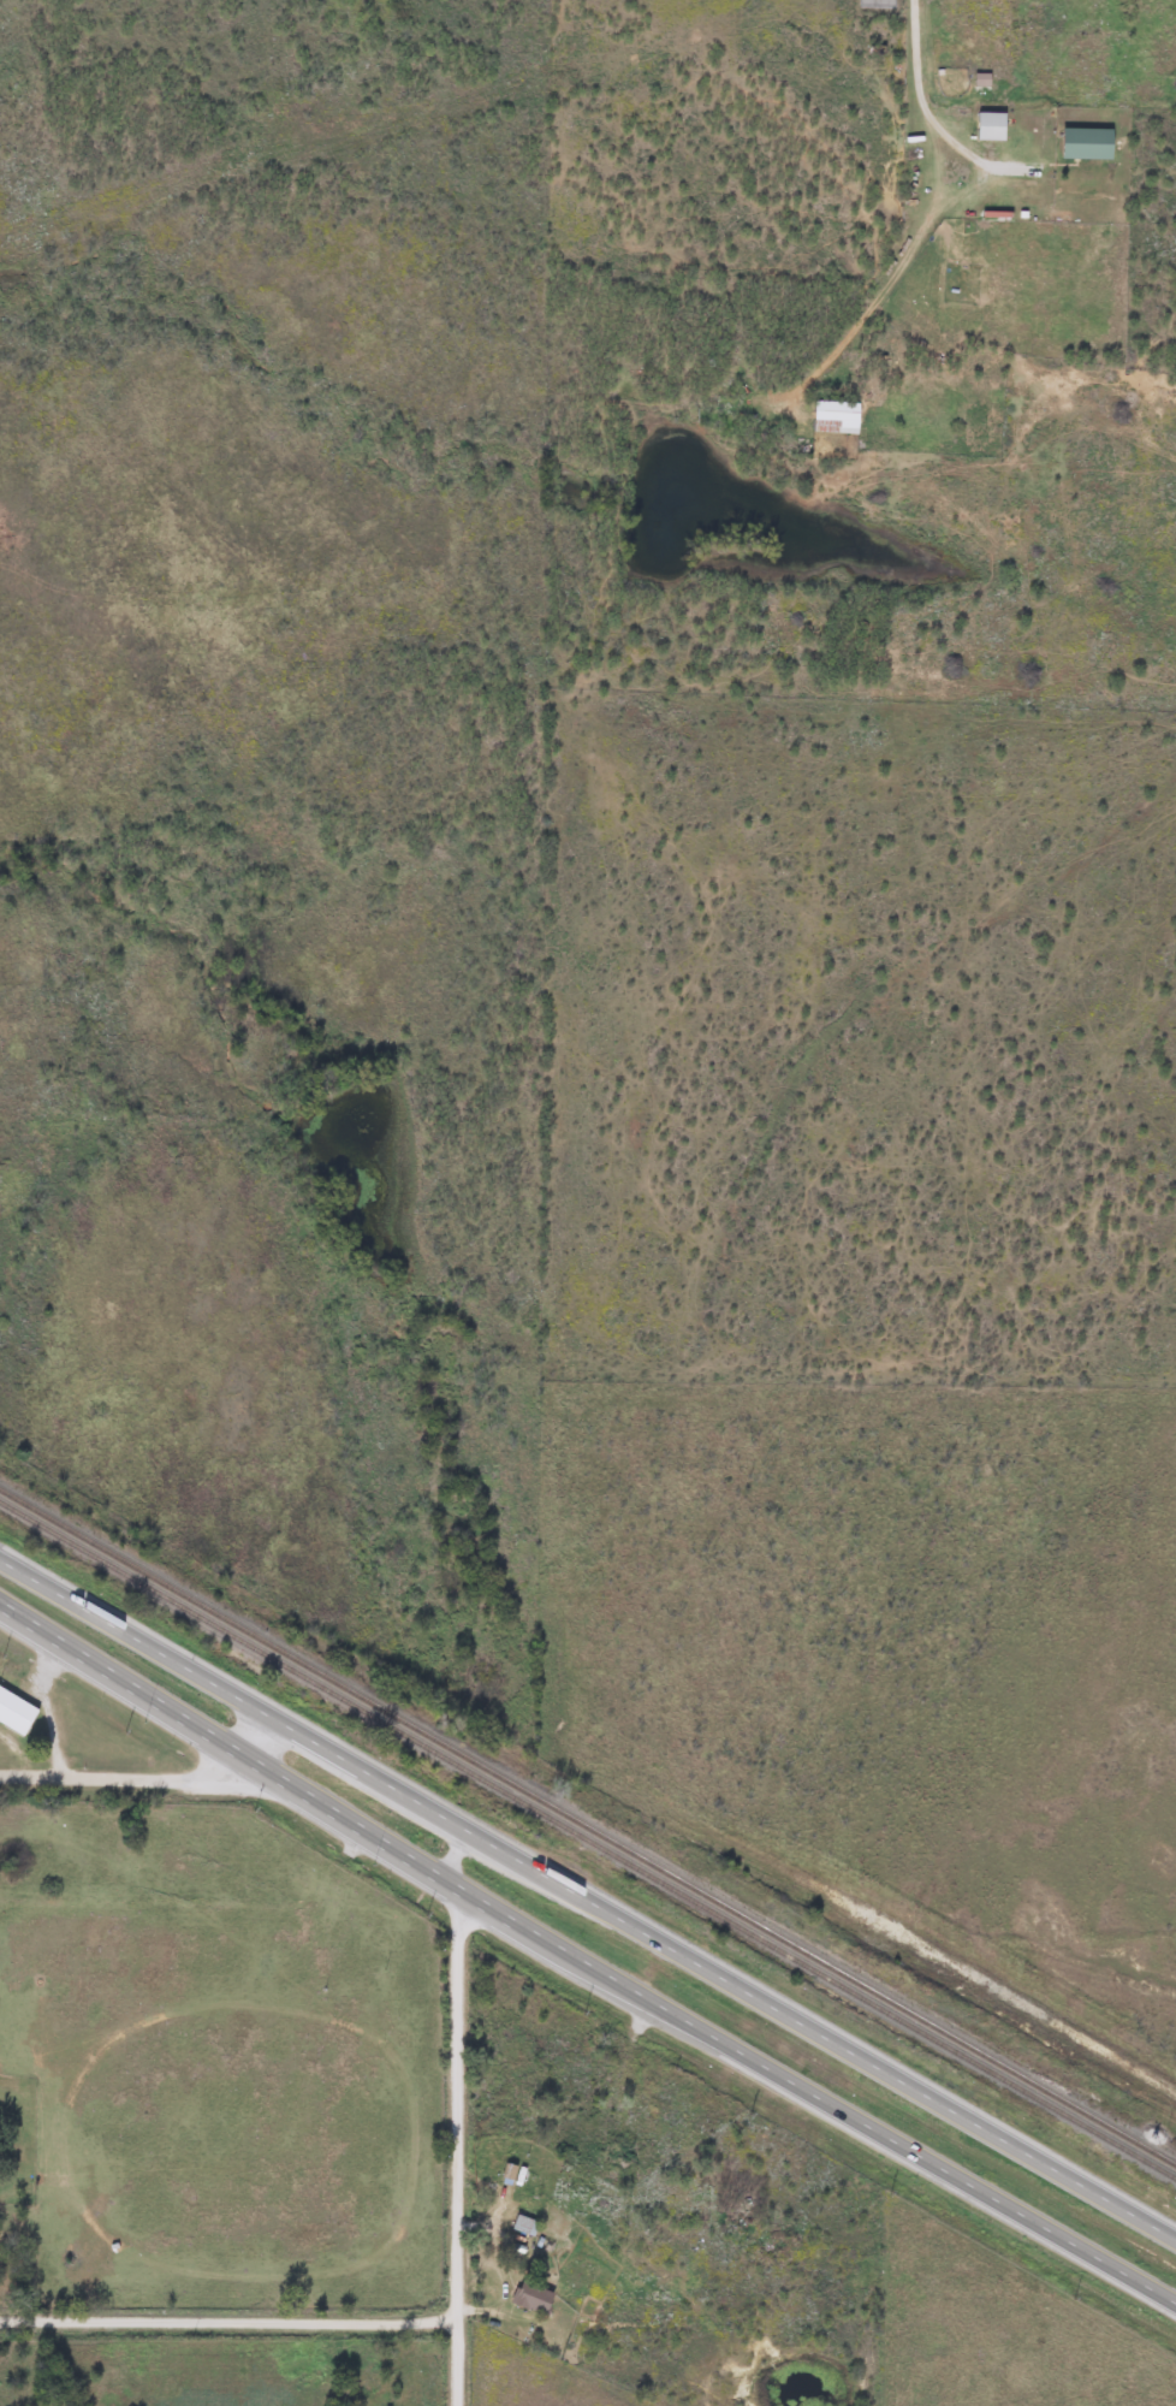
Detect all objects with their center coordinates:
building: (988, 126)
building: (1085, 143)
building: (833, 417)
building: (14, 1712)
road: (259, 1735)
road: (224, 1747)
road: (125, 1778)
railway: (588, 1826)
railway: (587, 1842)
road: (451, 1856)
road: (587, 1902)
road: (812, 2096)
road: (458, 2102)
building: (523, 2224)
building: (530, 2297)
road: (191, 2318)
road: (422, 2319)
road: (461, 2363)

